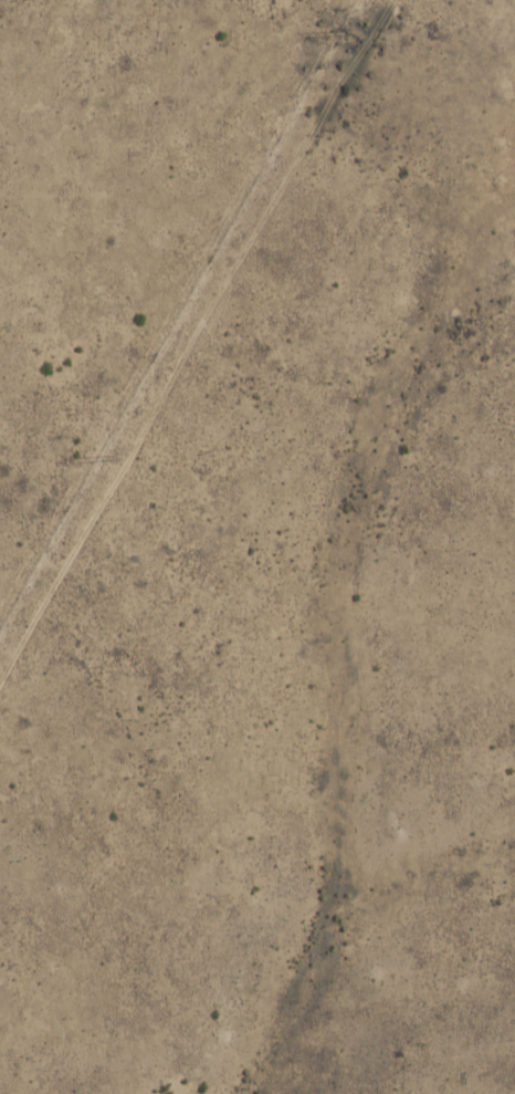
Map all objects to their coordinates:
road: (189, 337)

